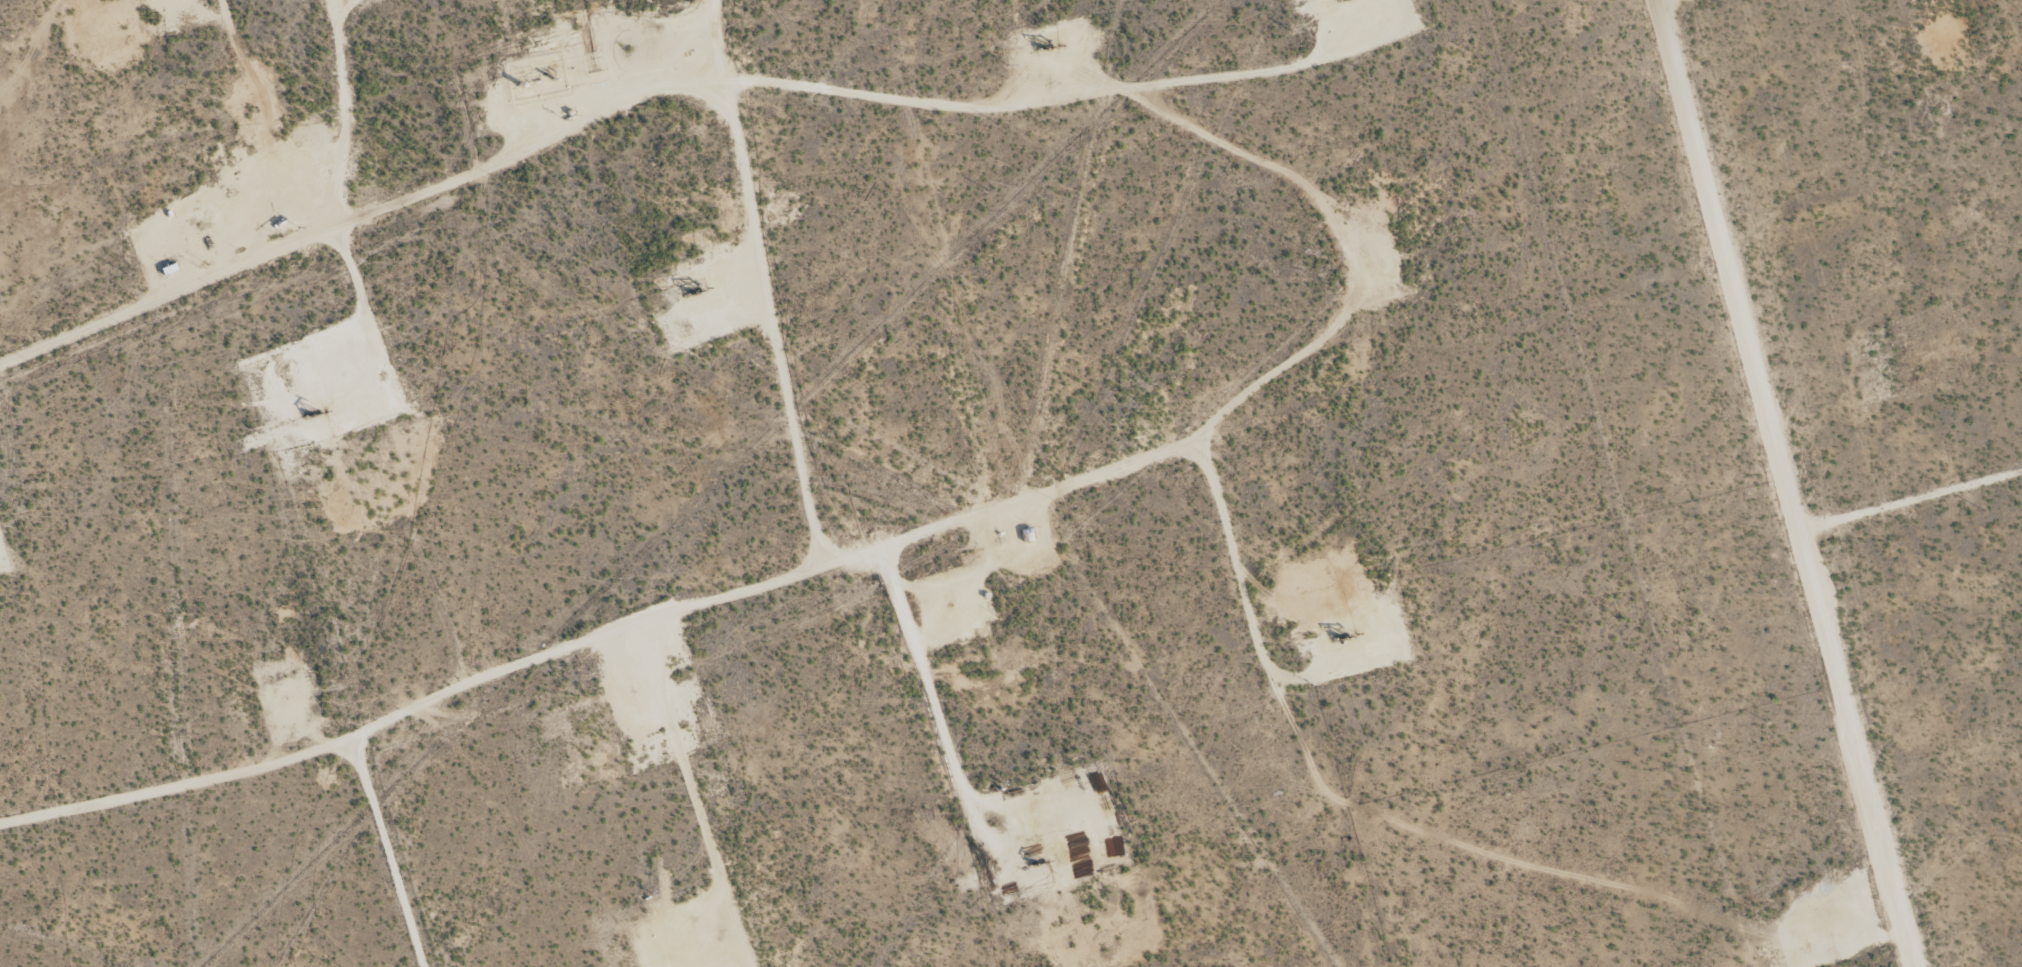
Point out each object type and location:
road: (1578, 483)

